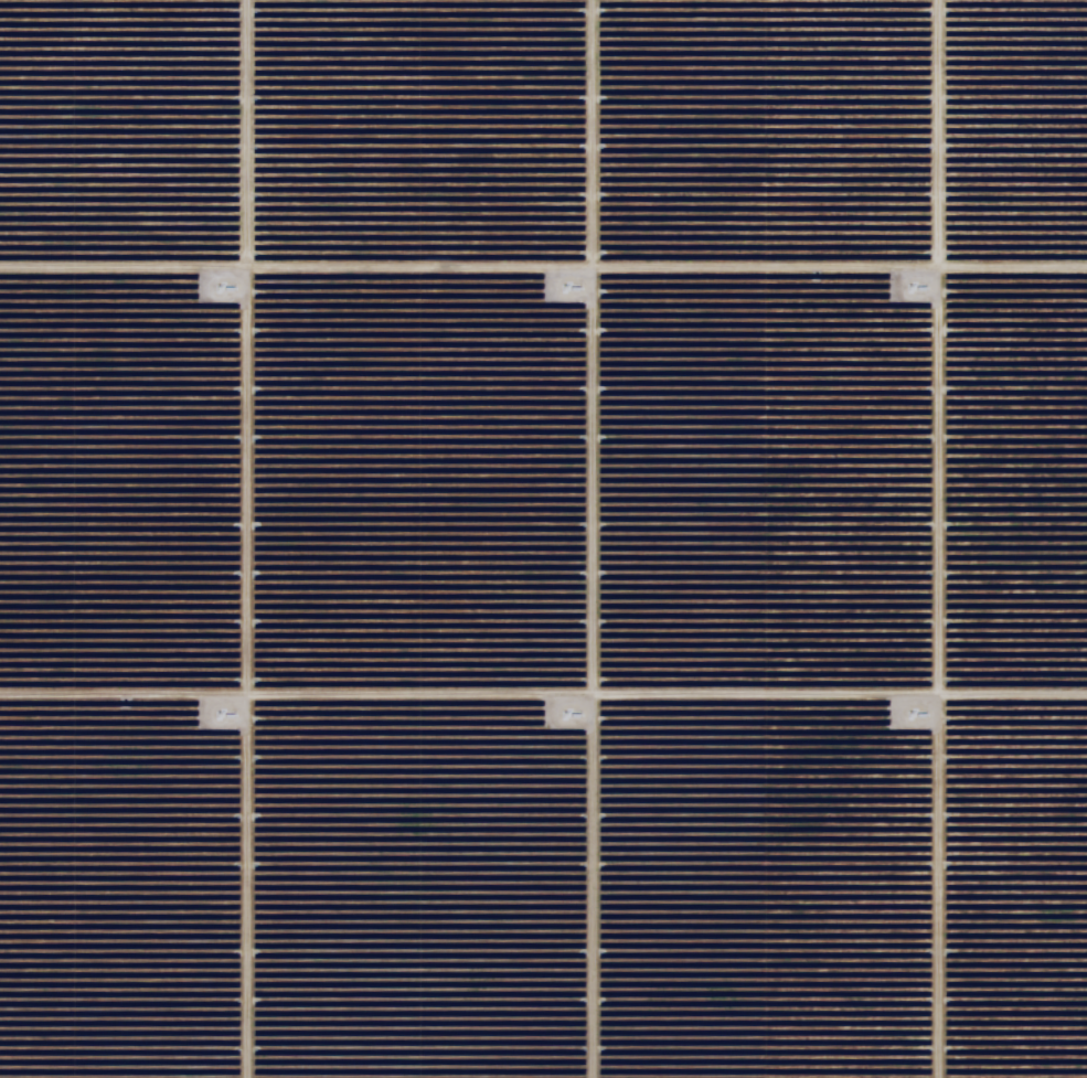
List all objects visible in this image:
solar farm: (543, 538)

